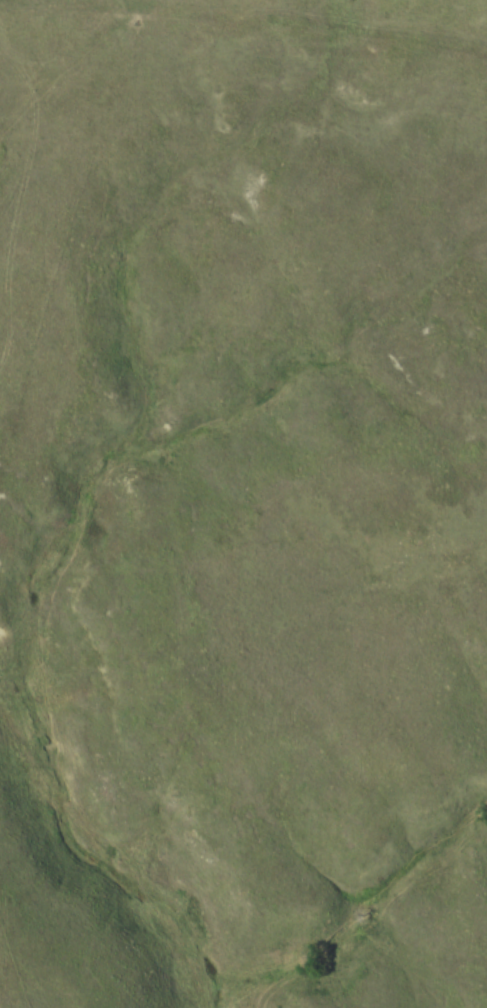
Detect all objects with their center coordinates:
road: (384, 13)

